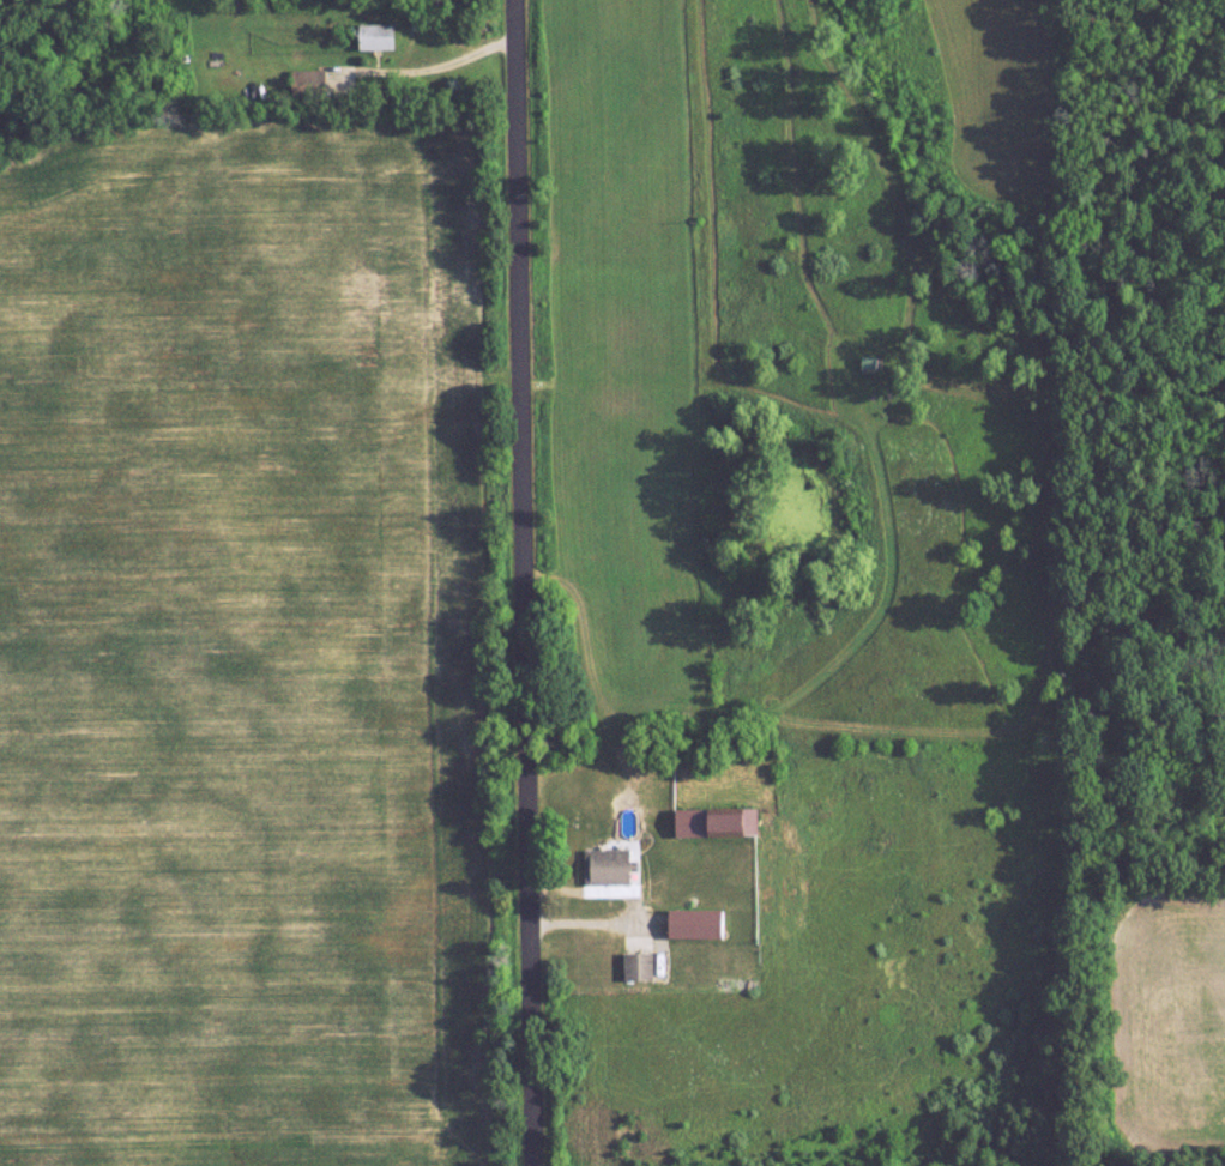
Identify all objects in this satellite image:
building: (384, 35)
road: (427, 65)
building: (312, 84)
road: (527, 582)
building: (717, 822)
building: (611, 866)
building: (699, 924)
building: (640, 966)

